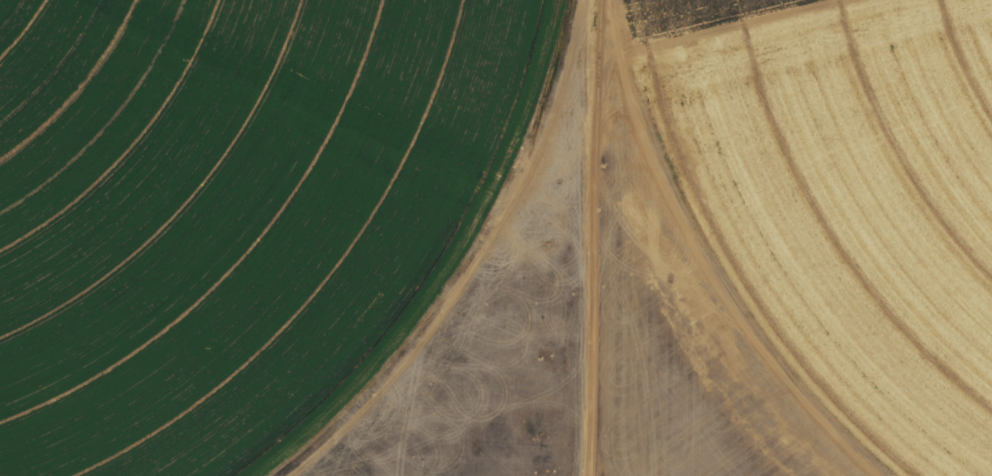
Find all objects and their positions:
road: (596, 238)

